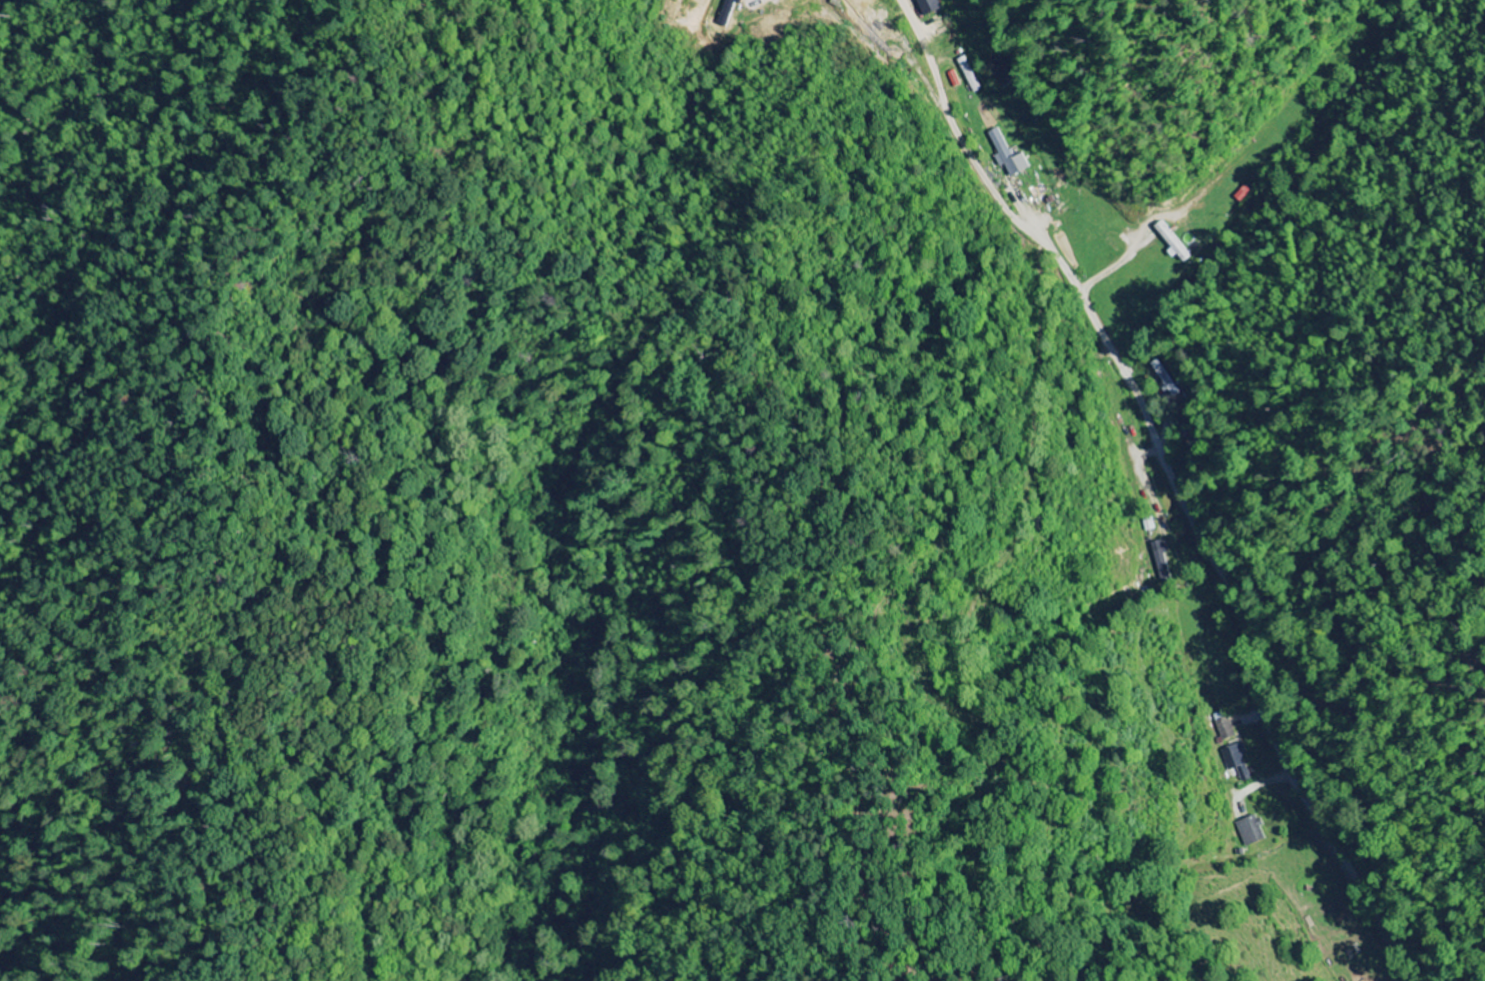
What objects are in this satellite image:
building: (927, 7)
building: (724, 13)
building: (1007, 155)
road: (1045, 431)
road: (1174, 486)
building: (1160, 559)
building: (1235, 760)
building: (1250, 831)

